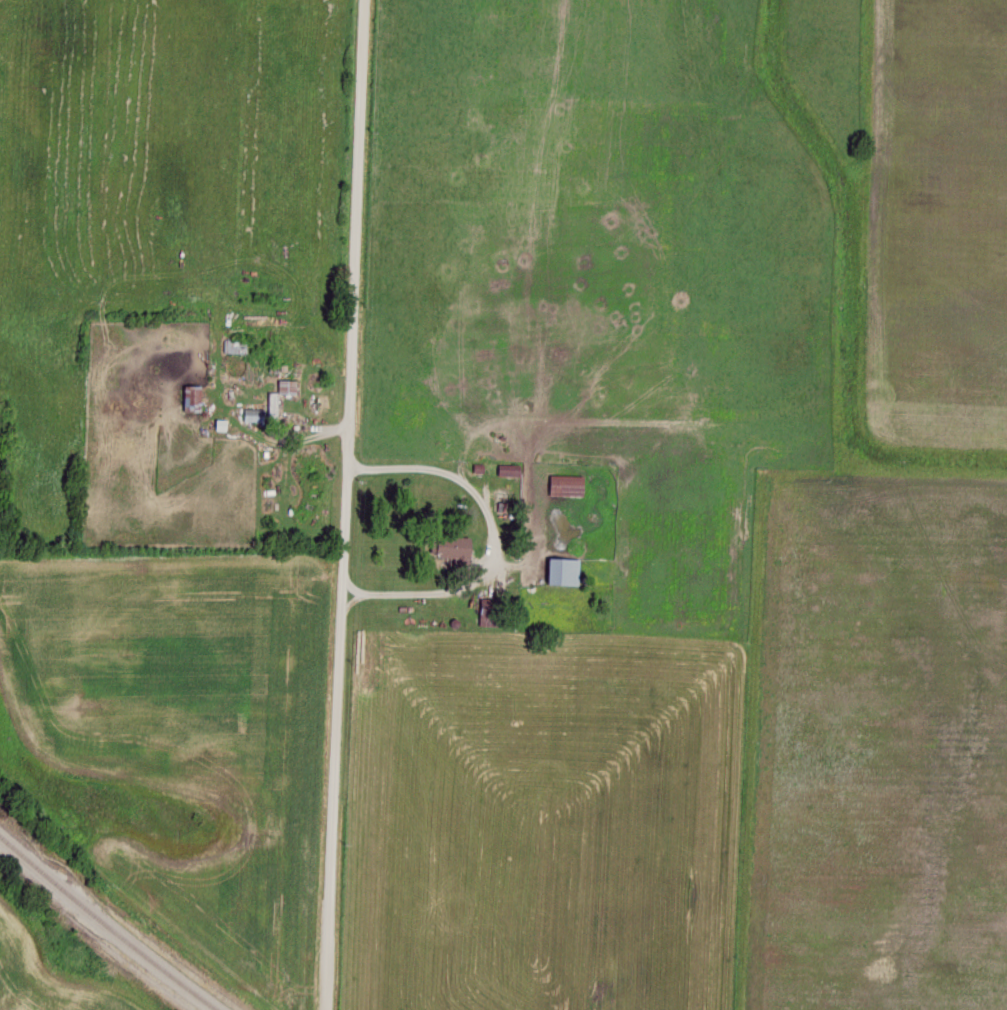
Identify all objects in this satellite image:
building: (192, 396)
building: (570, 483)
road: (345, 505)
road: (492, 536)
building: (460, 546)
building: (568, 568)
railway: (108, 925)

